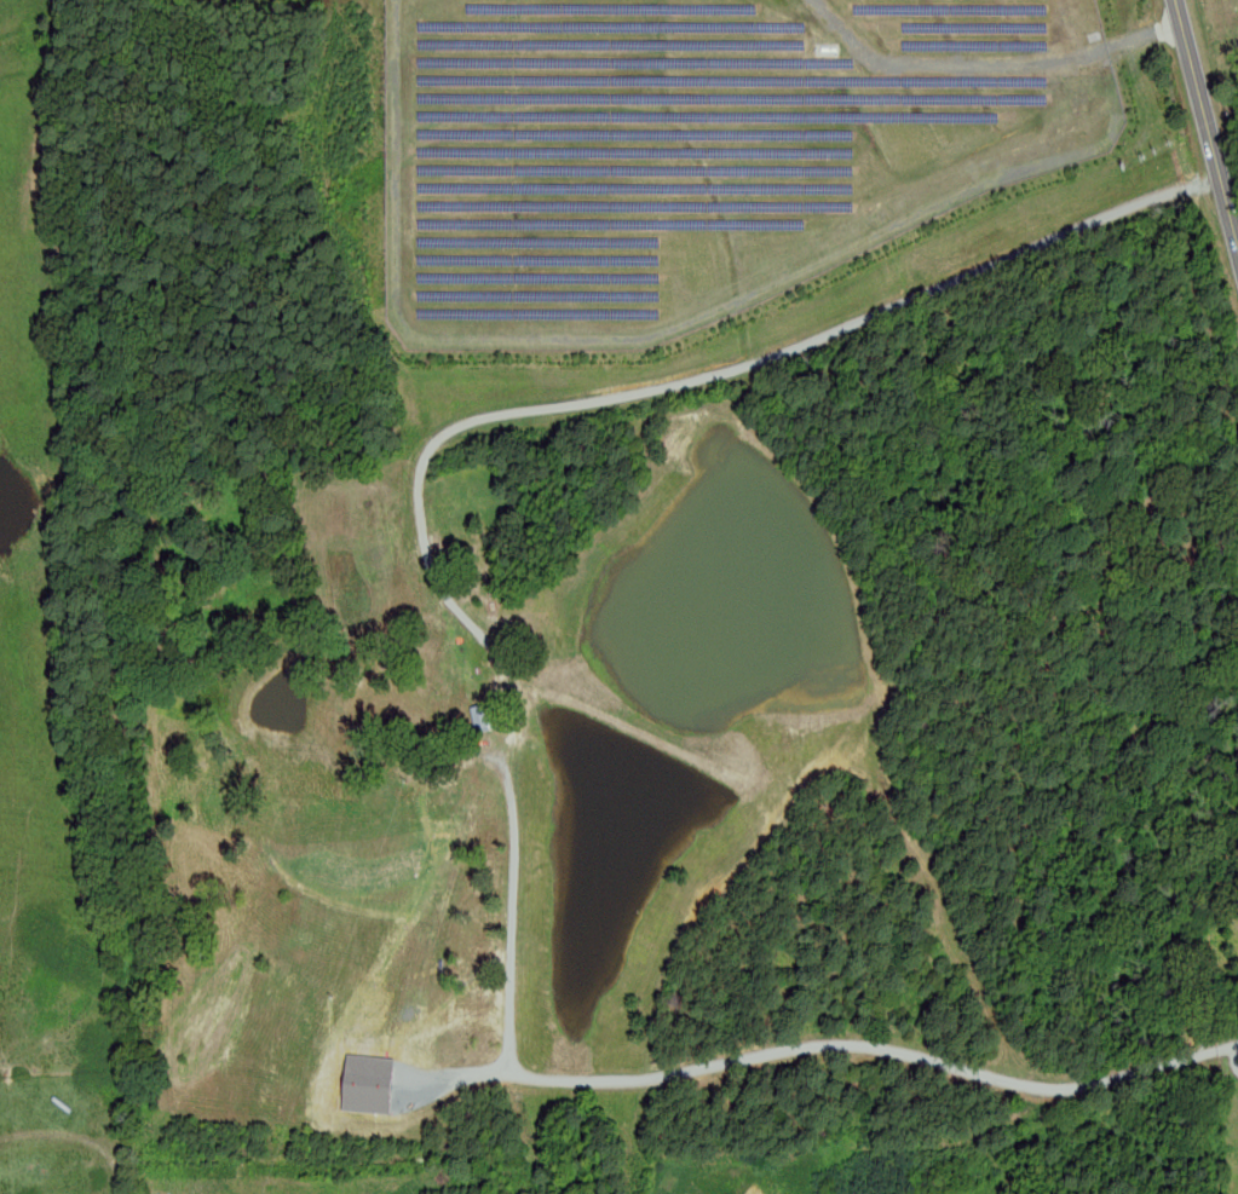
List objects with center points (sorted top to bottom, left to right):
road: (991, 64)
road: (1208, 119)
solar farm: (699, 148)
road: (655, 334)
road: (731, 368)
building: (485, 716)
road: (858, 1048)

